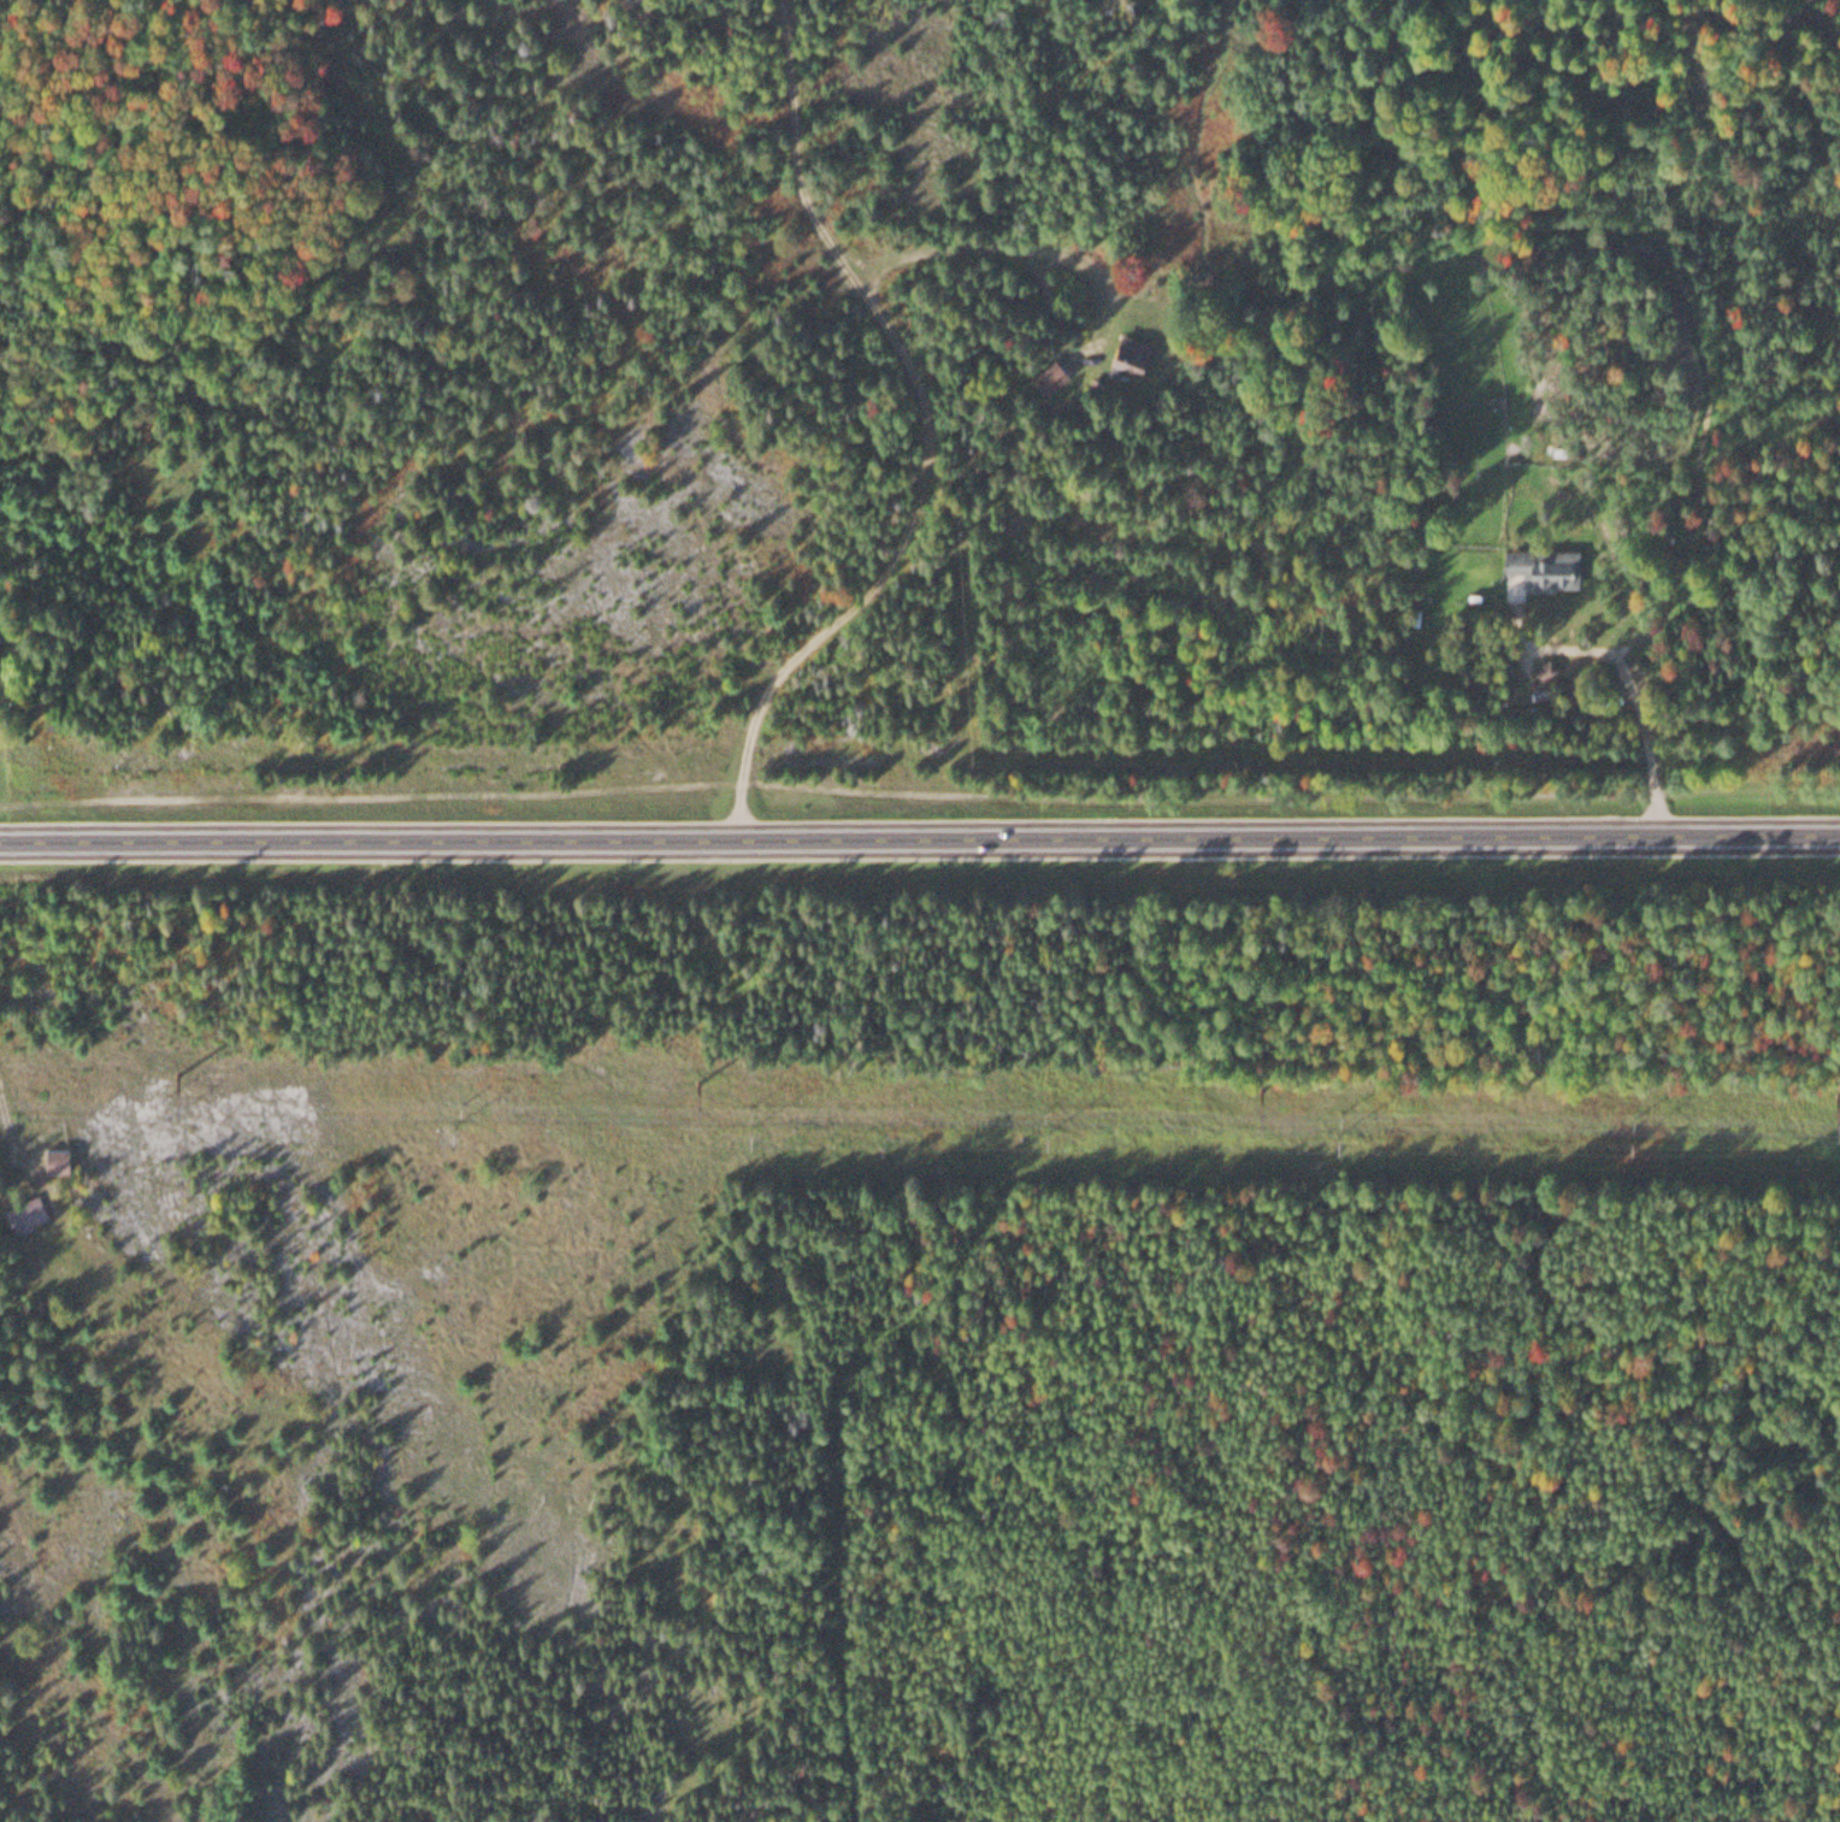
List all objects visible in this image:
building: (1131, 350)
road: (924, 432)
building: (1544, 564)
road: (920, 837)
power tower: (173, 1071)
power tower: (690, 1080)
power tower: (1256, 1086)
power tower: (1832, 1095)
road: (16, 1143)
building: (59, 1157)
building: (26, 1210)

